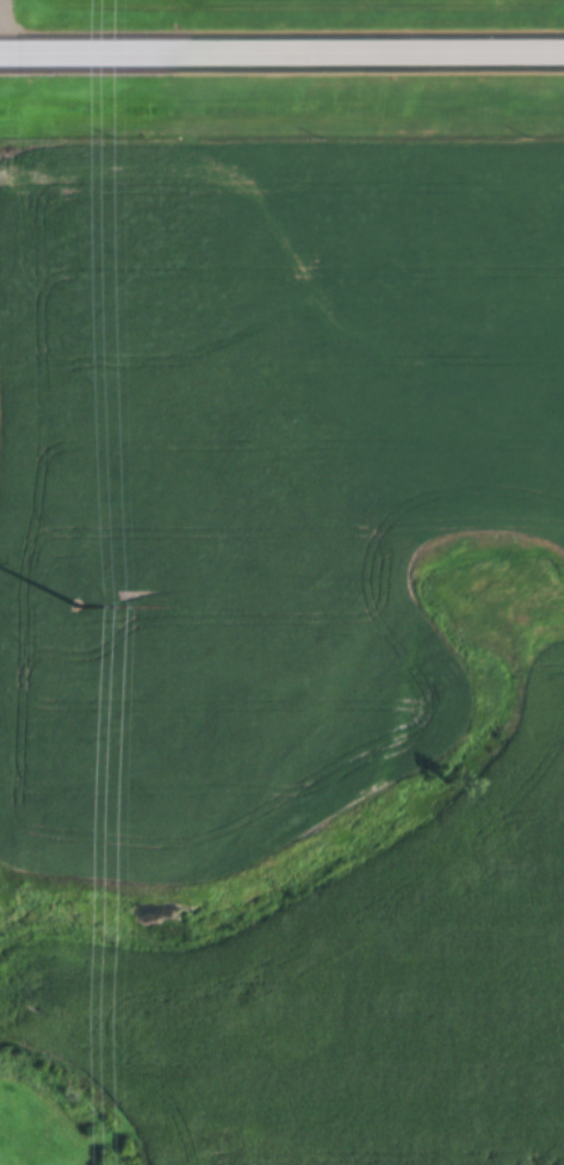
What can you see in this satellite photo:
road: (281, 49)
building: (38, 55)
building: (246, 55)
power tower: (80, 605)

